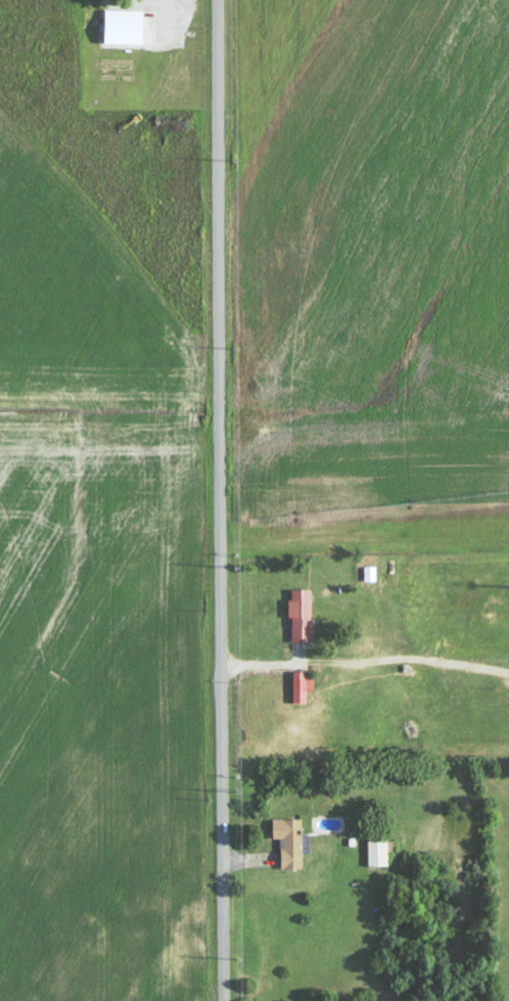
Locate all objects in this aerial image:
building: (124, 27)
road: (364, 397)
road: (221, 500)
building: (301, 617)
building: (299, 690)
building: (291, 843)
building: (378, 854)

